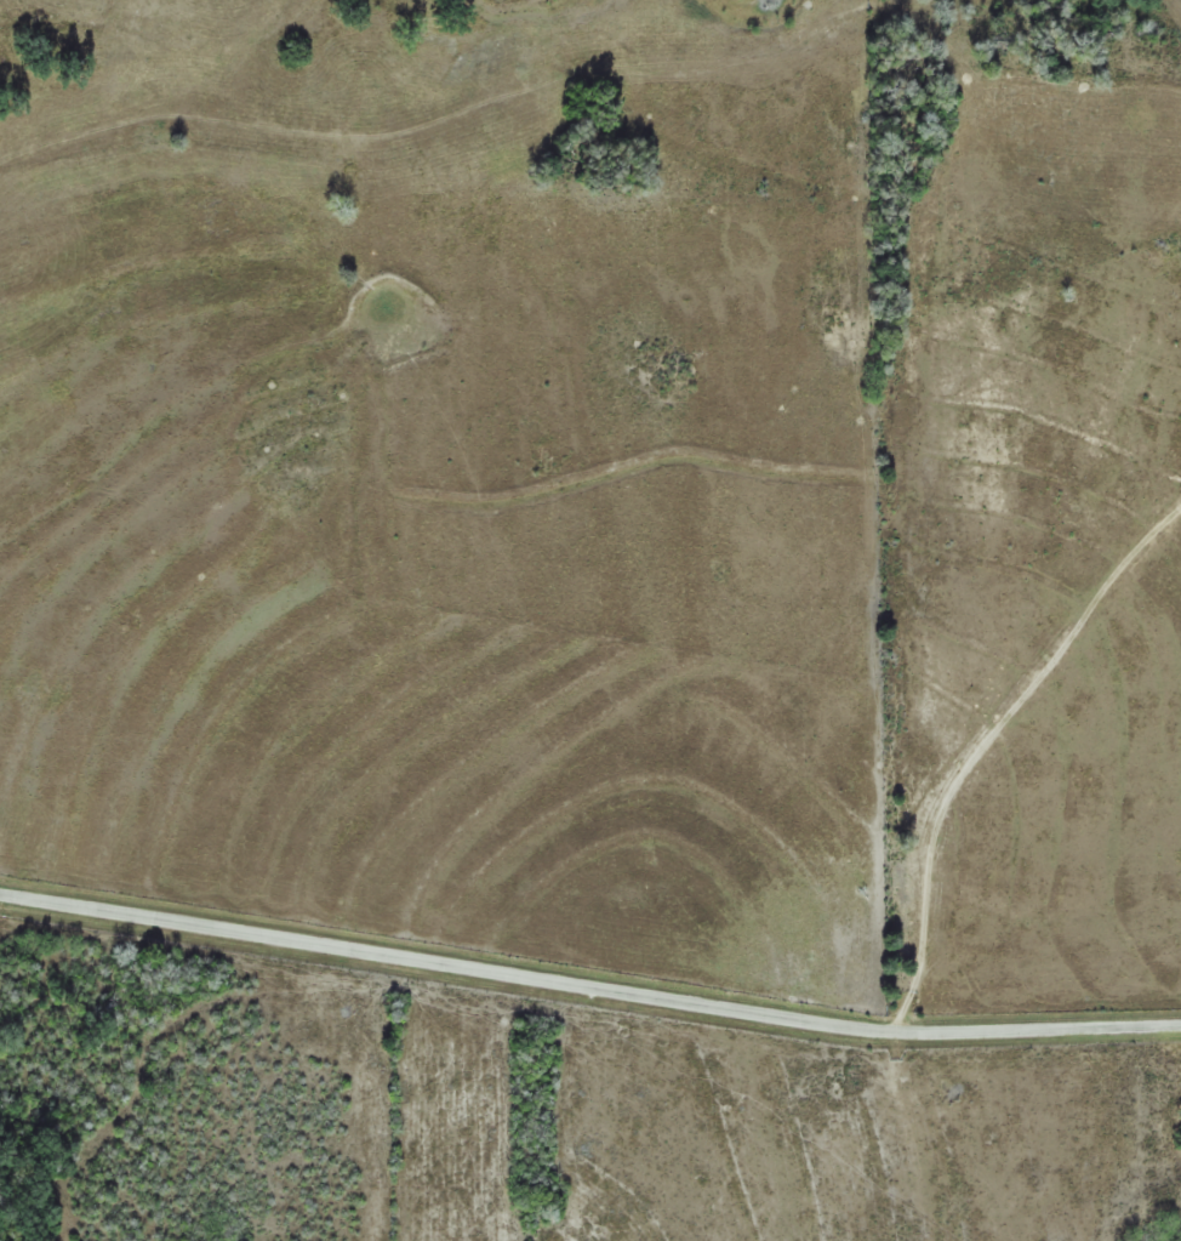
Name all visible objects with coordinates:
road: (588, 980)

